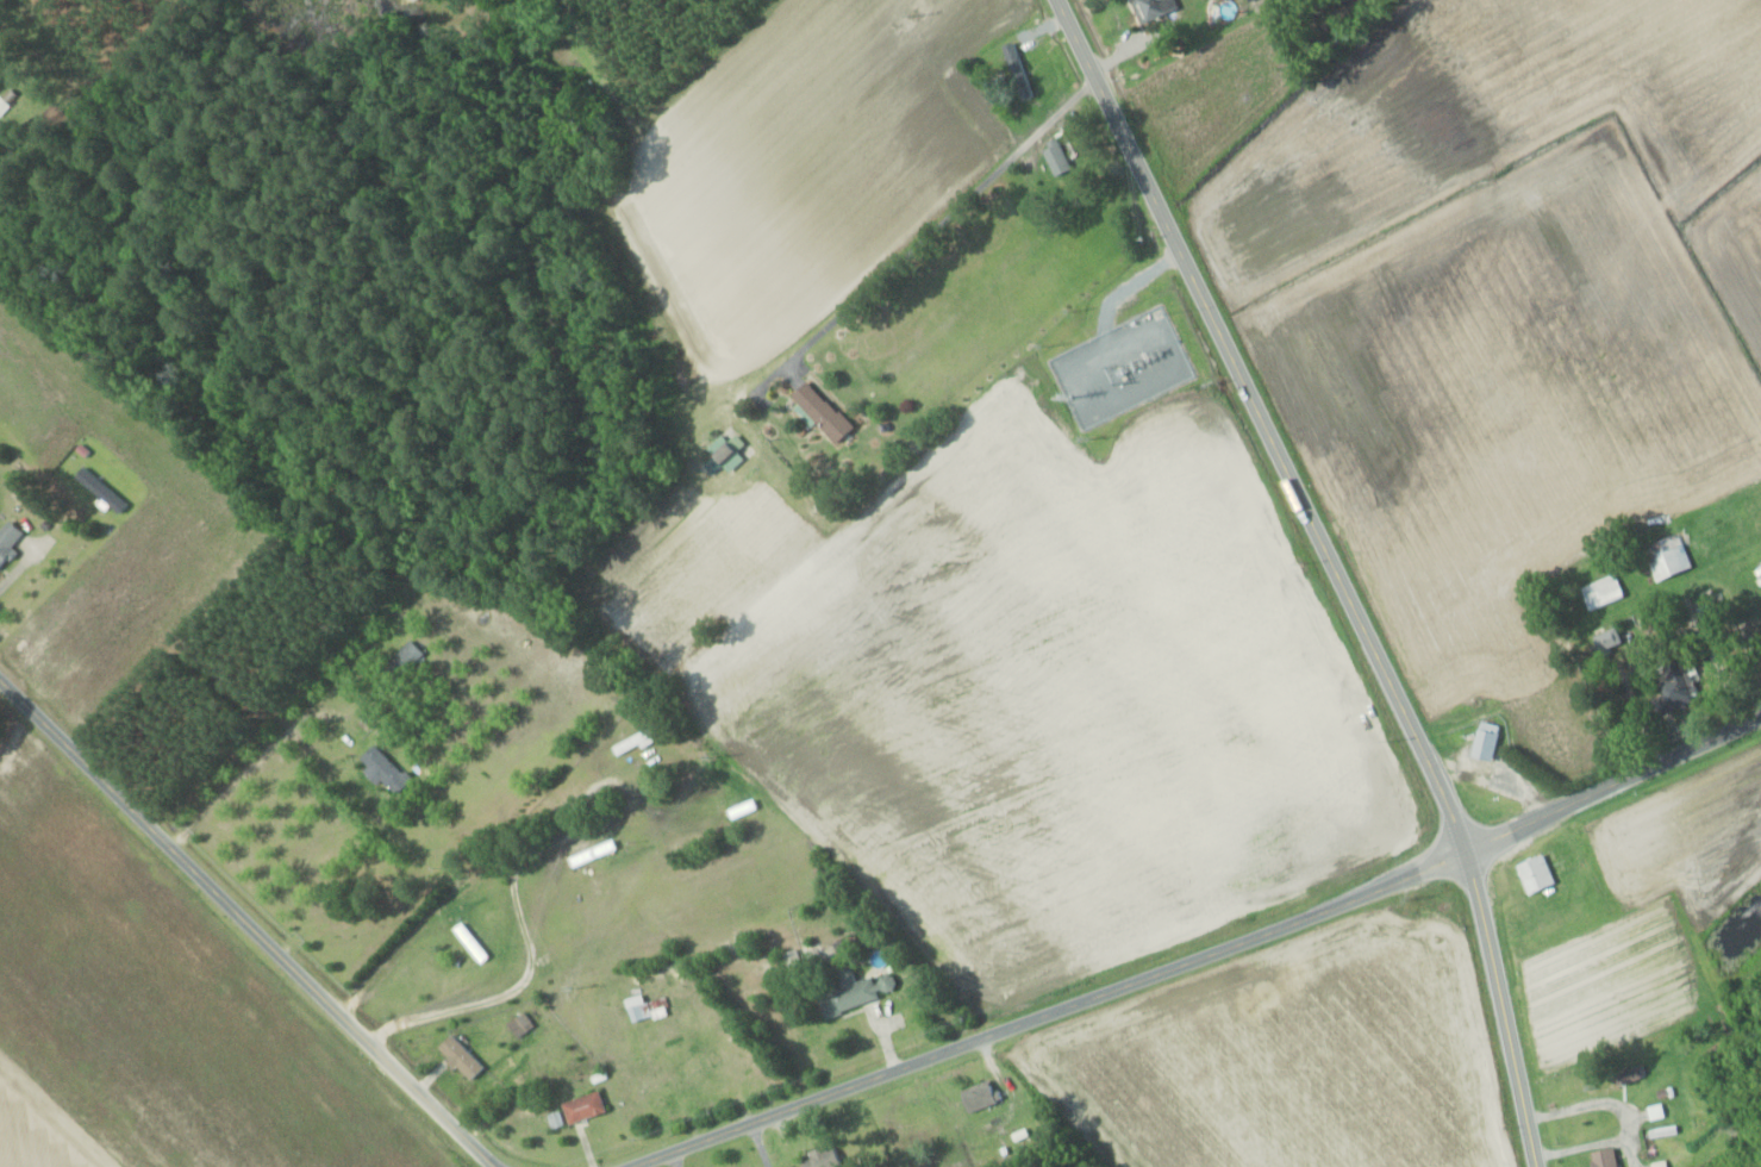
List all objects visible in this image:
building: (1151, 8)
building: (1018, 76)
building: (1054, 156)
building: (817, 411)
building: (11, 542)
building: (1665, 555)
road: (1335, 569)
building: (1600, 592)
building: (1605, 637)
building: (400, 659)
building: (1673, 685)
building: (1482, 741)
building: (631, 742)
building: (377, 765)
building: (741, 807)
building: (589, 853)
building: (1534, 873)
road: (248, 928)
building: (468, 942)
road: (1201, 956)
building: (851, 992)
road: (506, 994)
building: (652, 1009)
building: (633, 1012)
building: (518, 1024)
building: (457, 1057)
building: (1625, 1075)
building: (974, 1097)
building: (580, 1107)
building: (1601, 1157)
building: (808, 1162)

